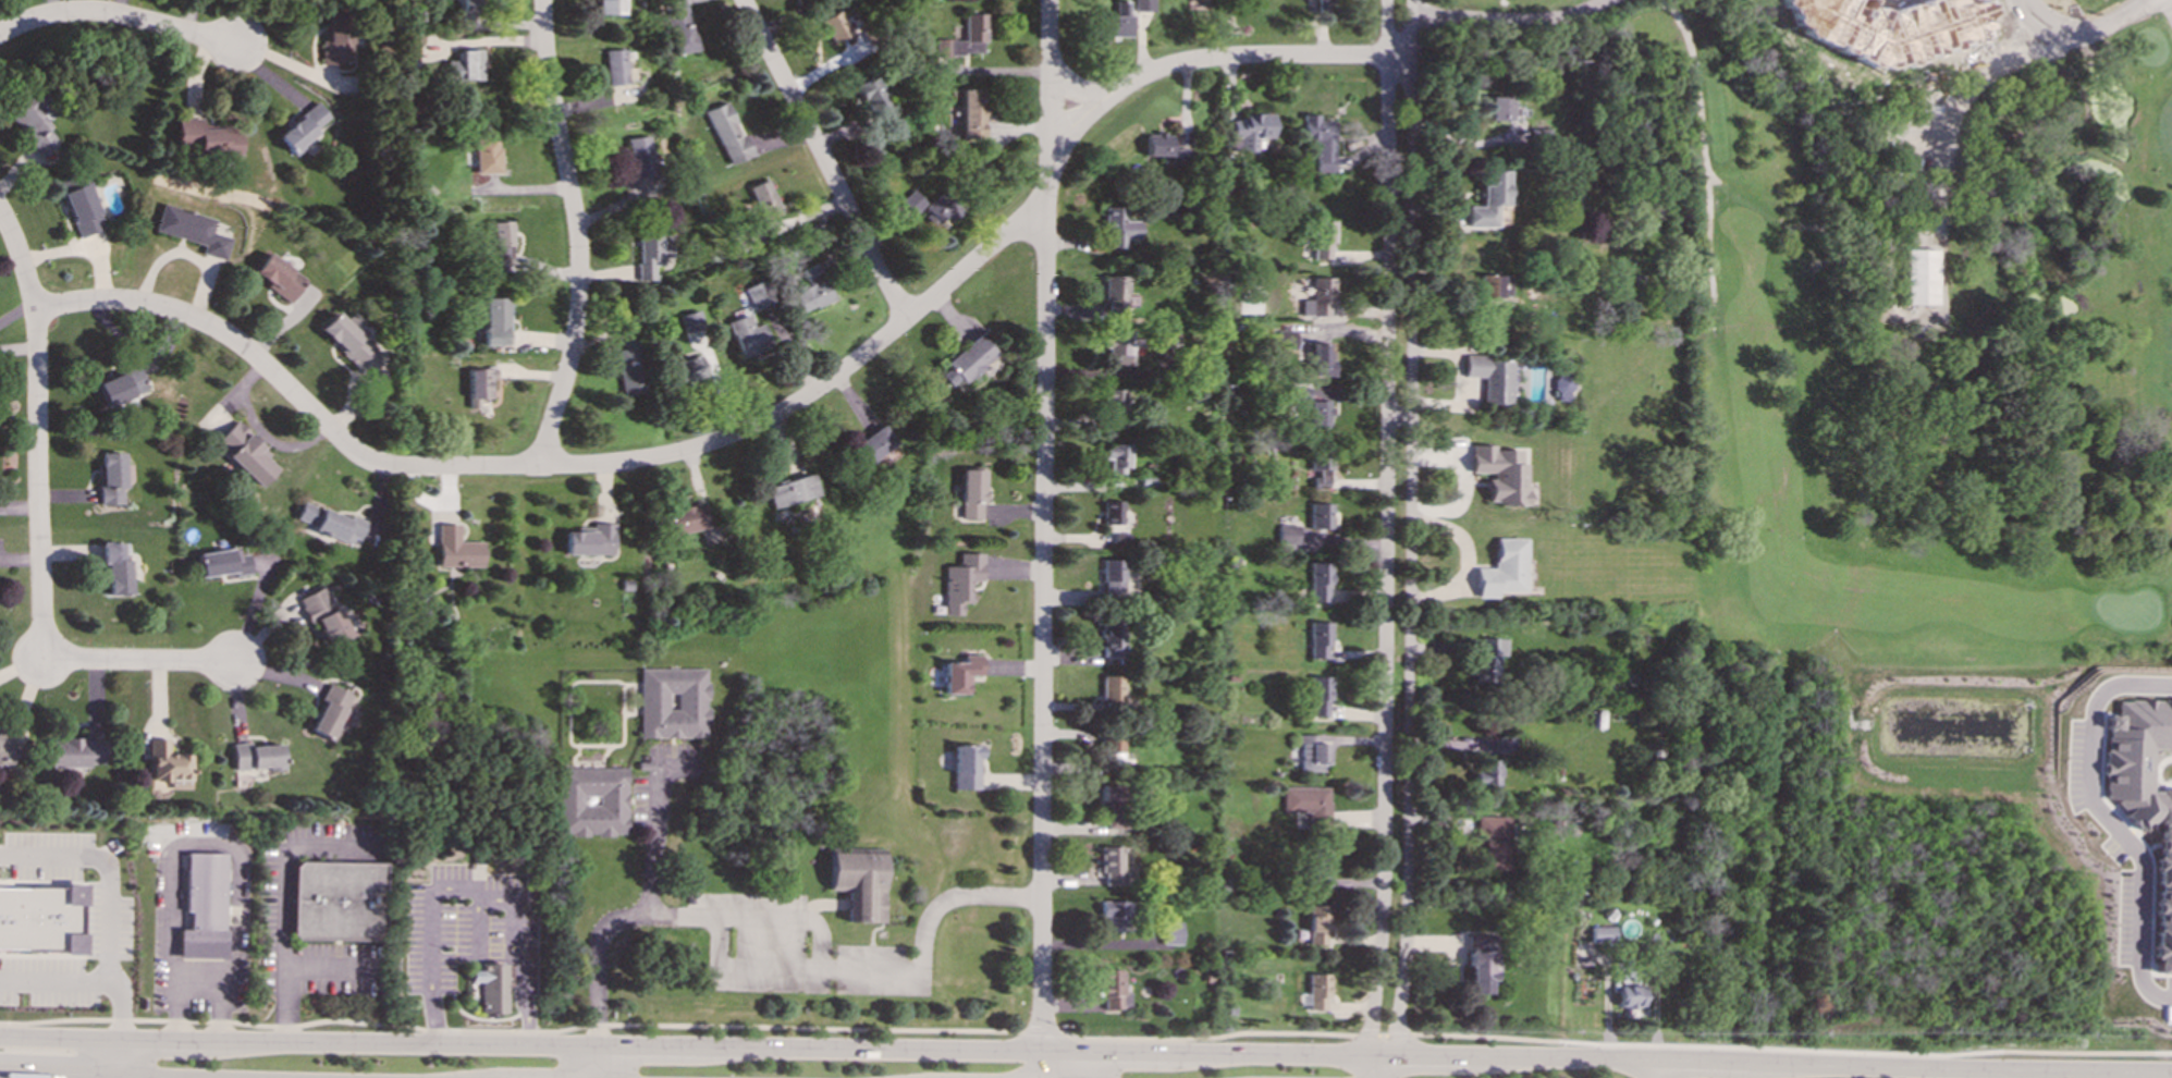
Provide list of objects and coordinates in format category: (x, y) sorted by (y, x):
building: (1143, 5)
building: (1324, 5)
building: (610, 8)
road: (2167, 11)
road: (2125, 15)
road: (2170, 15)
road: (120, 16)
road: (1502, 16)
building: (1117, 21)
building: (679, 26)
building: (835, 26)
road: (2058, 26)
building: (1889, 28)
building: (336, 38)
building: (965, 38)
building: (409, 56)
road: (1399, 58)
road: (1201, 60)
building: (464, 66)
building: (614, 69)
road: (1079, 93)
building: (871, 96)
building: (1496, 109)
building: (971, 113)
building: (33, 125)
building: (305, 127)
building: (725, 128)
building: (1251, 131)
building: (208, 137)
building: (1320, 140)
building: (1156, 144)
road: (1703, 146)
building: (487, 155)
building: (1178, 156)
building: (639, 157)
road: (822, 159)
building: (1487, 198)
building: (763, 199)
building: (930, 207)
building: (83, 209)
building: (1117, 226)
building: (194, 229)
road: (576, 233)
building: (1320, 237)
building: (502, 241)
road: (84, 249)
building: (650, 250)
building: (280, 275)
building: (1919, 275)
building: (1493, 285)
building: (812, 289)
building: (1114, 293)
building: (759, 294)
building: (1317, 297)
building: (495, 320)
building: (690, 321)
building: (747, 335)
building: (347, 338)
building: (1165, 339)
building: (1285, 339)
building: (1119, 346)
building: (1320, 359)
building: (966, 362)
building: (628, 363)
building: (692, 367)
building: (1489, 377)
building: (1561, 383)
building: (479, 384)
building: (124, 385)
building: (1113, 407)
road: (40, 431)
building: (873, 444)
building: (246, 453)
building: (1116, 455)
road: (549, 466)
building: (1322, 469)
building: (1498, 474)
building: (111, 477)
building: (792, 490)
building: (969, 493)
building: (1321, 514)
building: (686, 518)
building: (1113, 518)
building: (328, 522)
road: (1043, 525)
road: (1386, 526)
road: (1409, 526)
building: (1287, 534)
building: (589, 540)
park: (1881, 546)
building: (455, 548)
building: (221, 562)
building: (114, 568)
building: (1501, 568)
building: (1113, 577)
building: (959, 580)
building: (1318, 581)
building: (322, 614)
building: (1110, 637)
building: (1318, 639)
building: (1486, 659)
road: (137, 660)
building: (960, 673)
building: (1112, 690)
building: (1317, 696)
building: (671, 701)
building: (329, 711)
building: (1505, 743)
building: (1107, 749)
building: (5, 750)
building: (72, 751)
building: (1311, 752)
building: (255, 756)
building: (164, 763)
building: (966, 767)
building: (1486, 772)
building: (2142, 795)
building: (589, 800)
building: (1306, 801)
building: (1113, 804)
road: (2103, 819)
building: (1493, 840)
building: (1114, 866)
building: (1317, 867)
road: (172, 870)
building: (858, 883)
road: (468, 891)
road: (647, 895)
road: (111, 897)
building: (338, 901)
road: (287, 902)
building: (203, 905)
building: (1115, 914)
building: (40, 919)
road: (788, 919)
building: (1317, 922)
building: (1170, 932)
building: (1600, 933)
building: (1480, 961)
road: (844, 966)
road: (54, 978)
building: (490, 987)
building: (1112, 989)
building: (1316, 991)
building: (1629, 993)
road: (172, 1013)
road: (511, 1031)
road: (1042, 1031)
road: (1383, 1034)
road: (58, 1037)
road: (1208, 1038)
road: (161, 1040)
road: (251, 1042)
road: (446, 1045)
road: (646, 1046)
road: (888, 1049)
road: (1791, 1050)
road: (1124, 1052)
road: (1266, 1052)
road: (1419, 1053)
road: (1562, 1056)
road: (116, 1058)
road: (1701, 1059)
road: (597, 1062)
road: (1043, 1064)
road: (1081, 1065)
road: (1367, 1065)
road: (1385, 1065)
road: (1960, 1067)
road: (1653, 1068)
road: (1, 1073)
road: (59, 1076)

